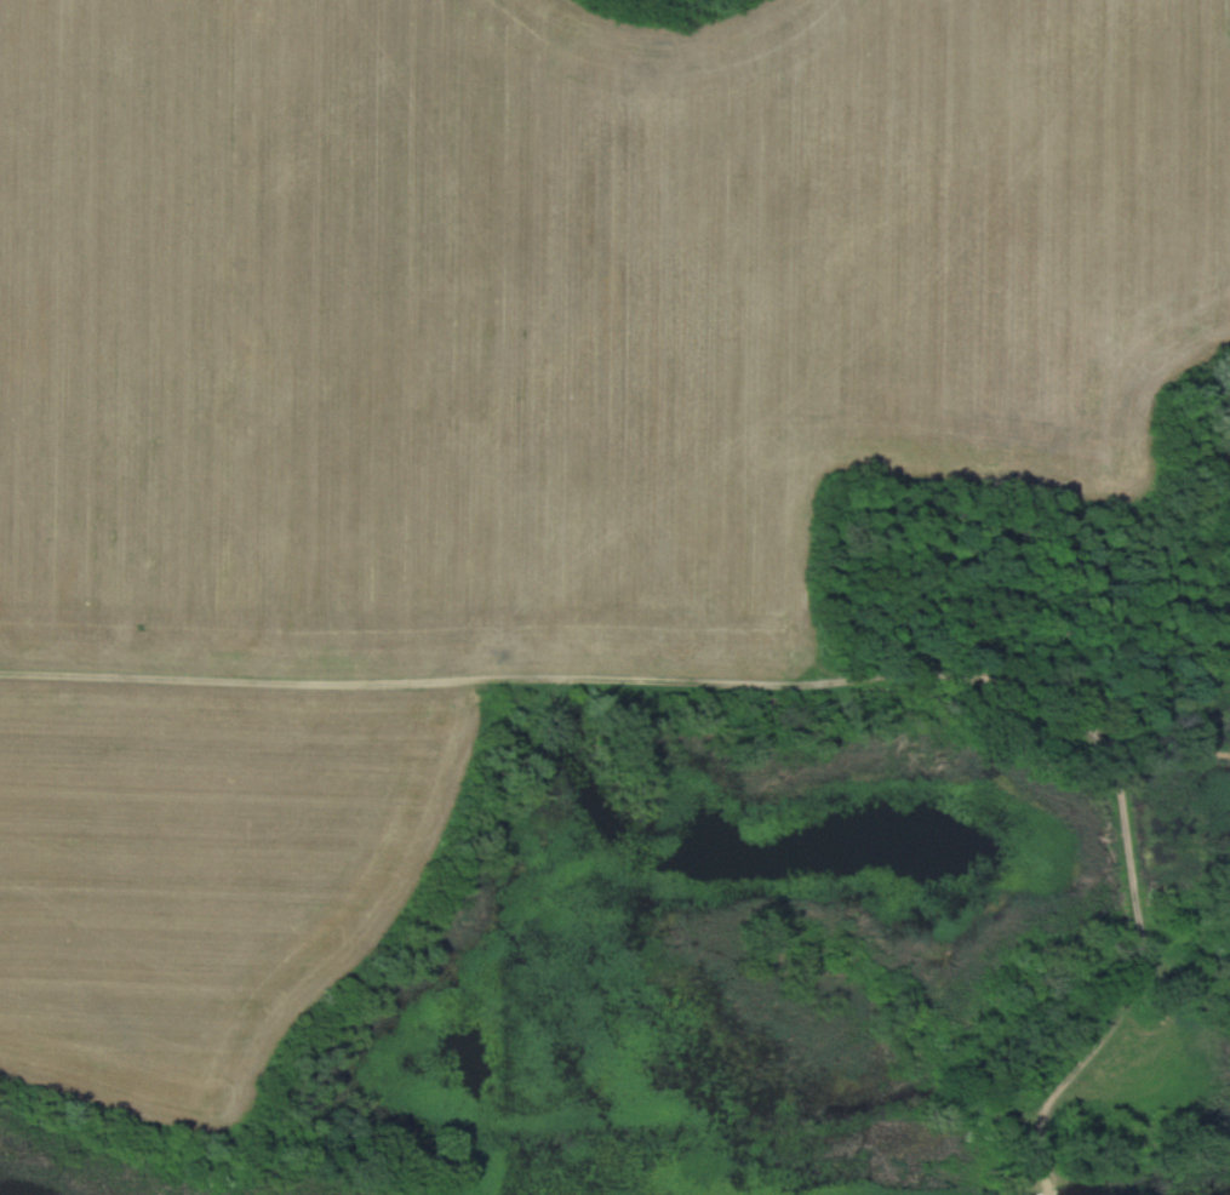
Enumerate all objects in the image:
road: (785, 685)
road: (1042, 1168)

